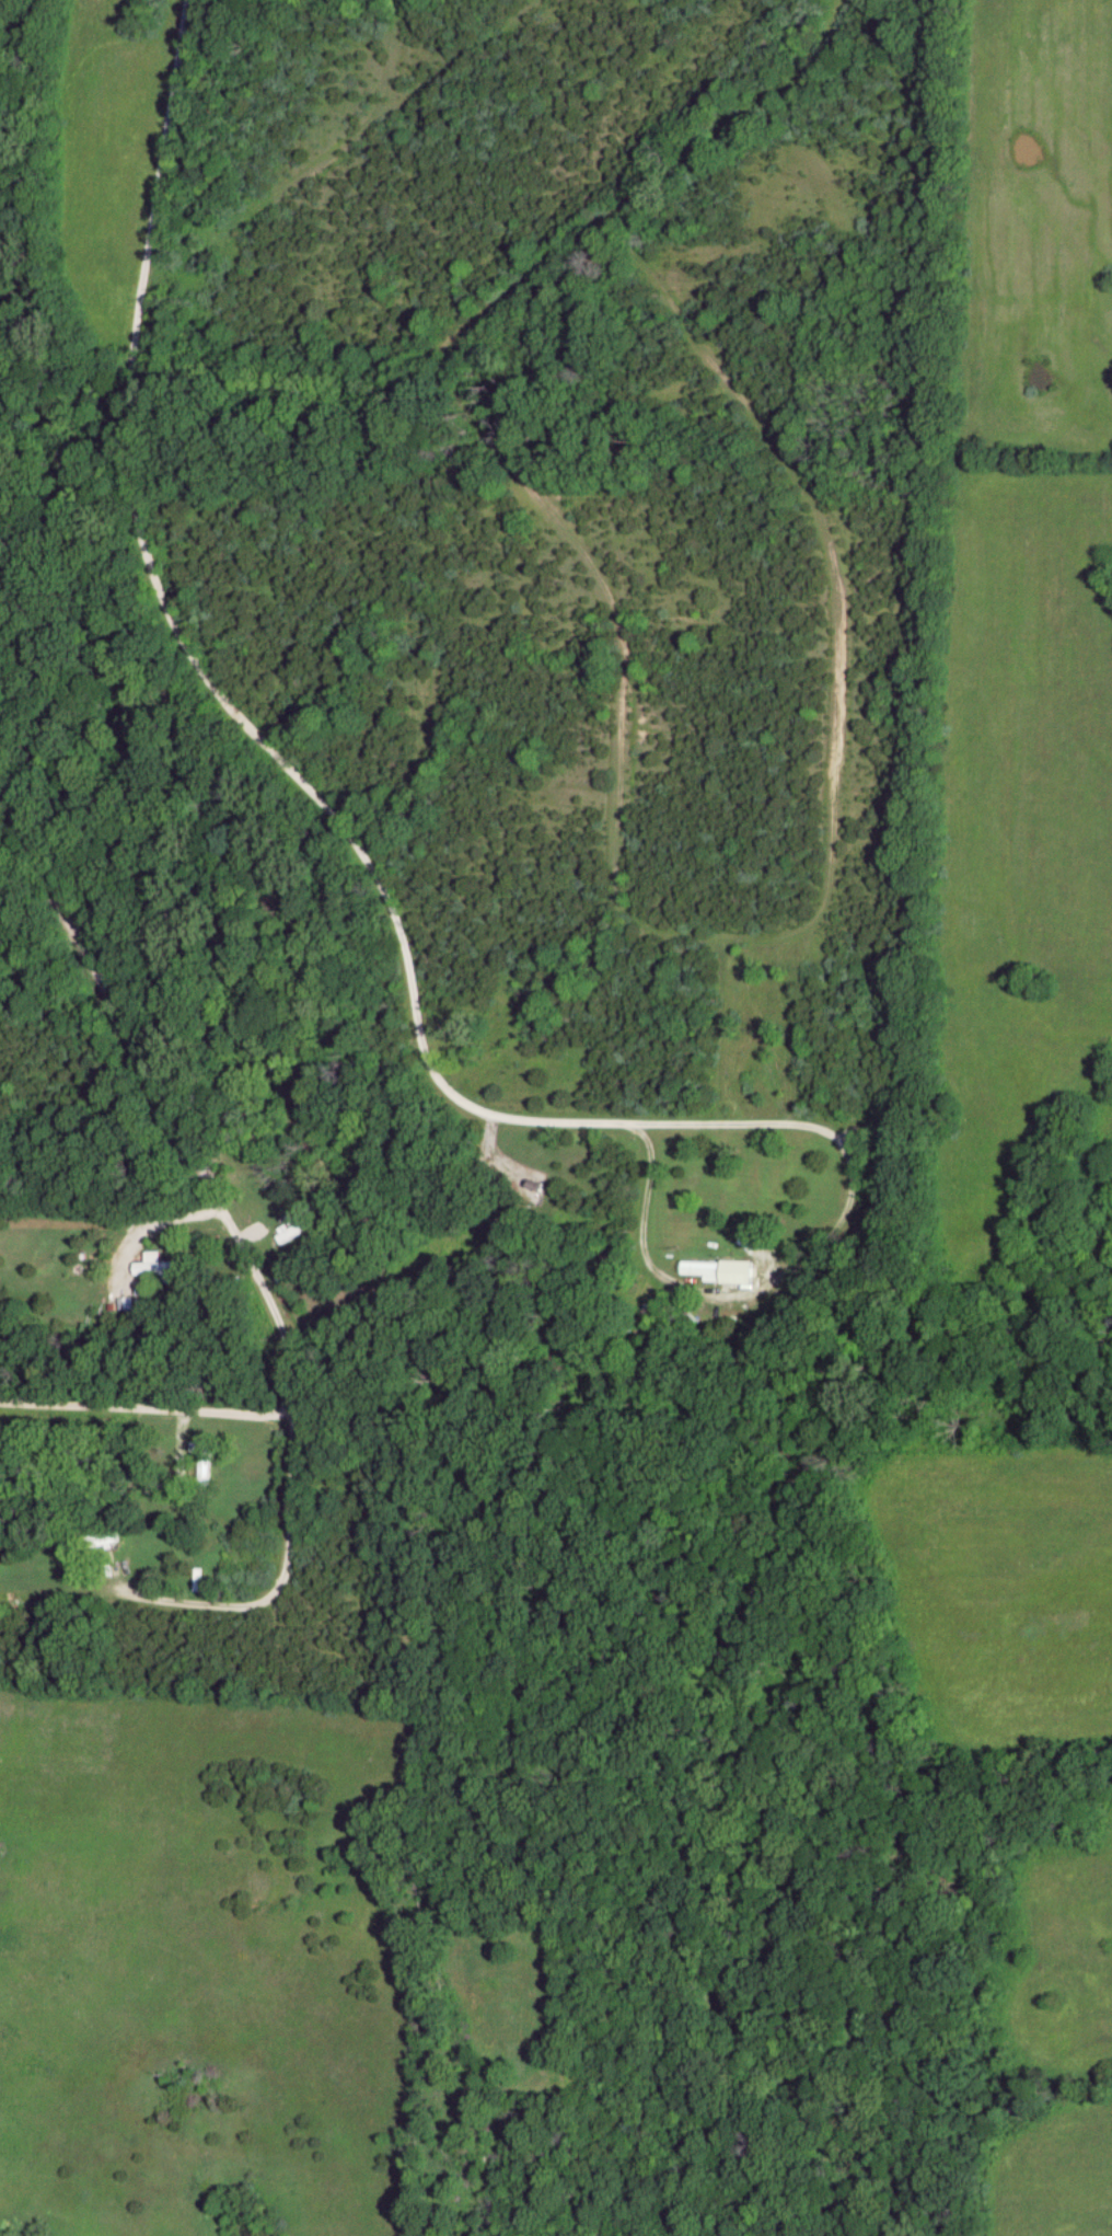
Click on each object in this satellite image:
road: (534, 494)
road: (837, 569)
road: (197, 667)
road: (12, 852)
road: (165, 1107)
road: (152, 1228)
building: (296, 1230)
road: (816, 1257)
building: (153, 1268)
building: (702, 1269)
road: (146, 1410)
building: (202, 1472)
building: (99, 1542)
road: (225, 1604)

